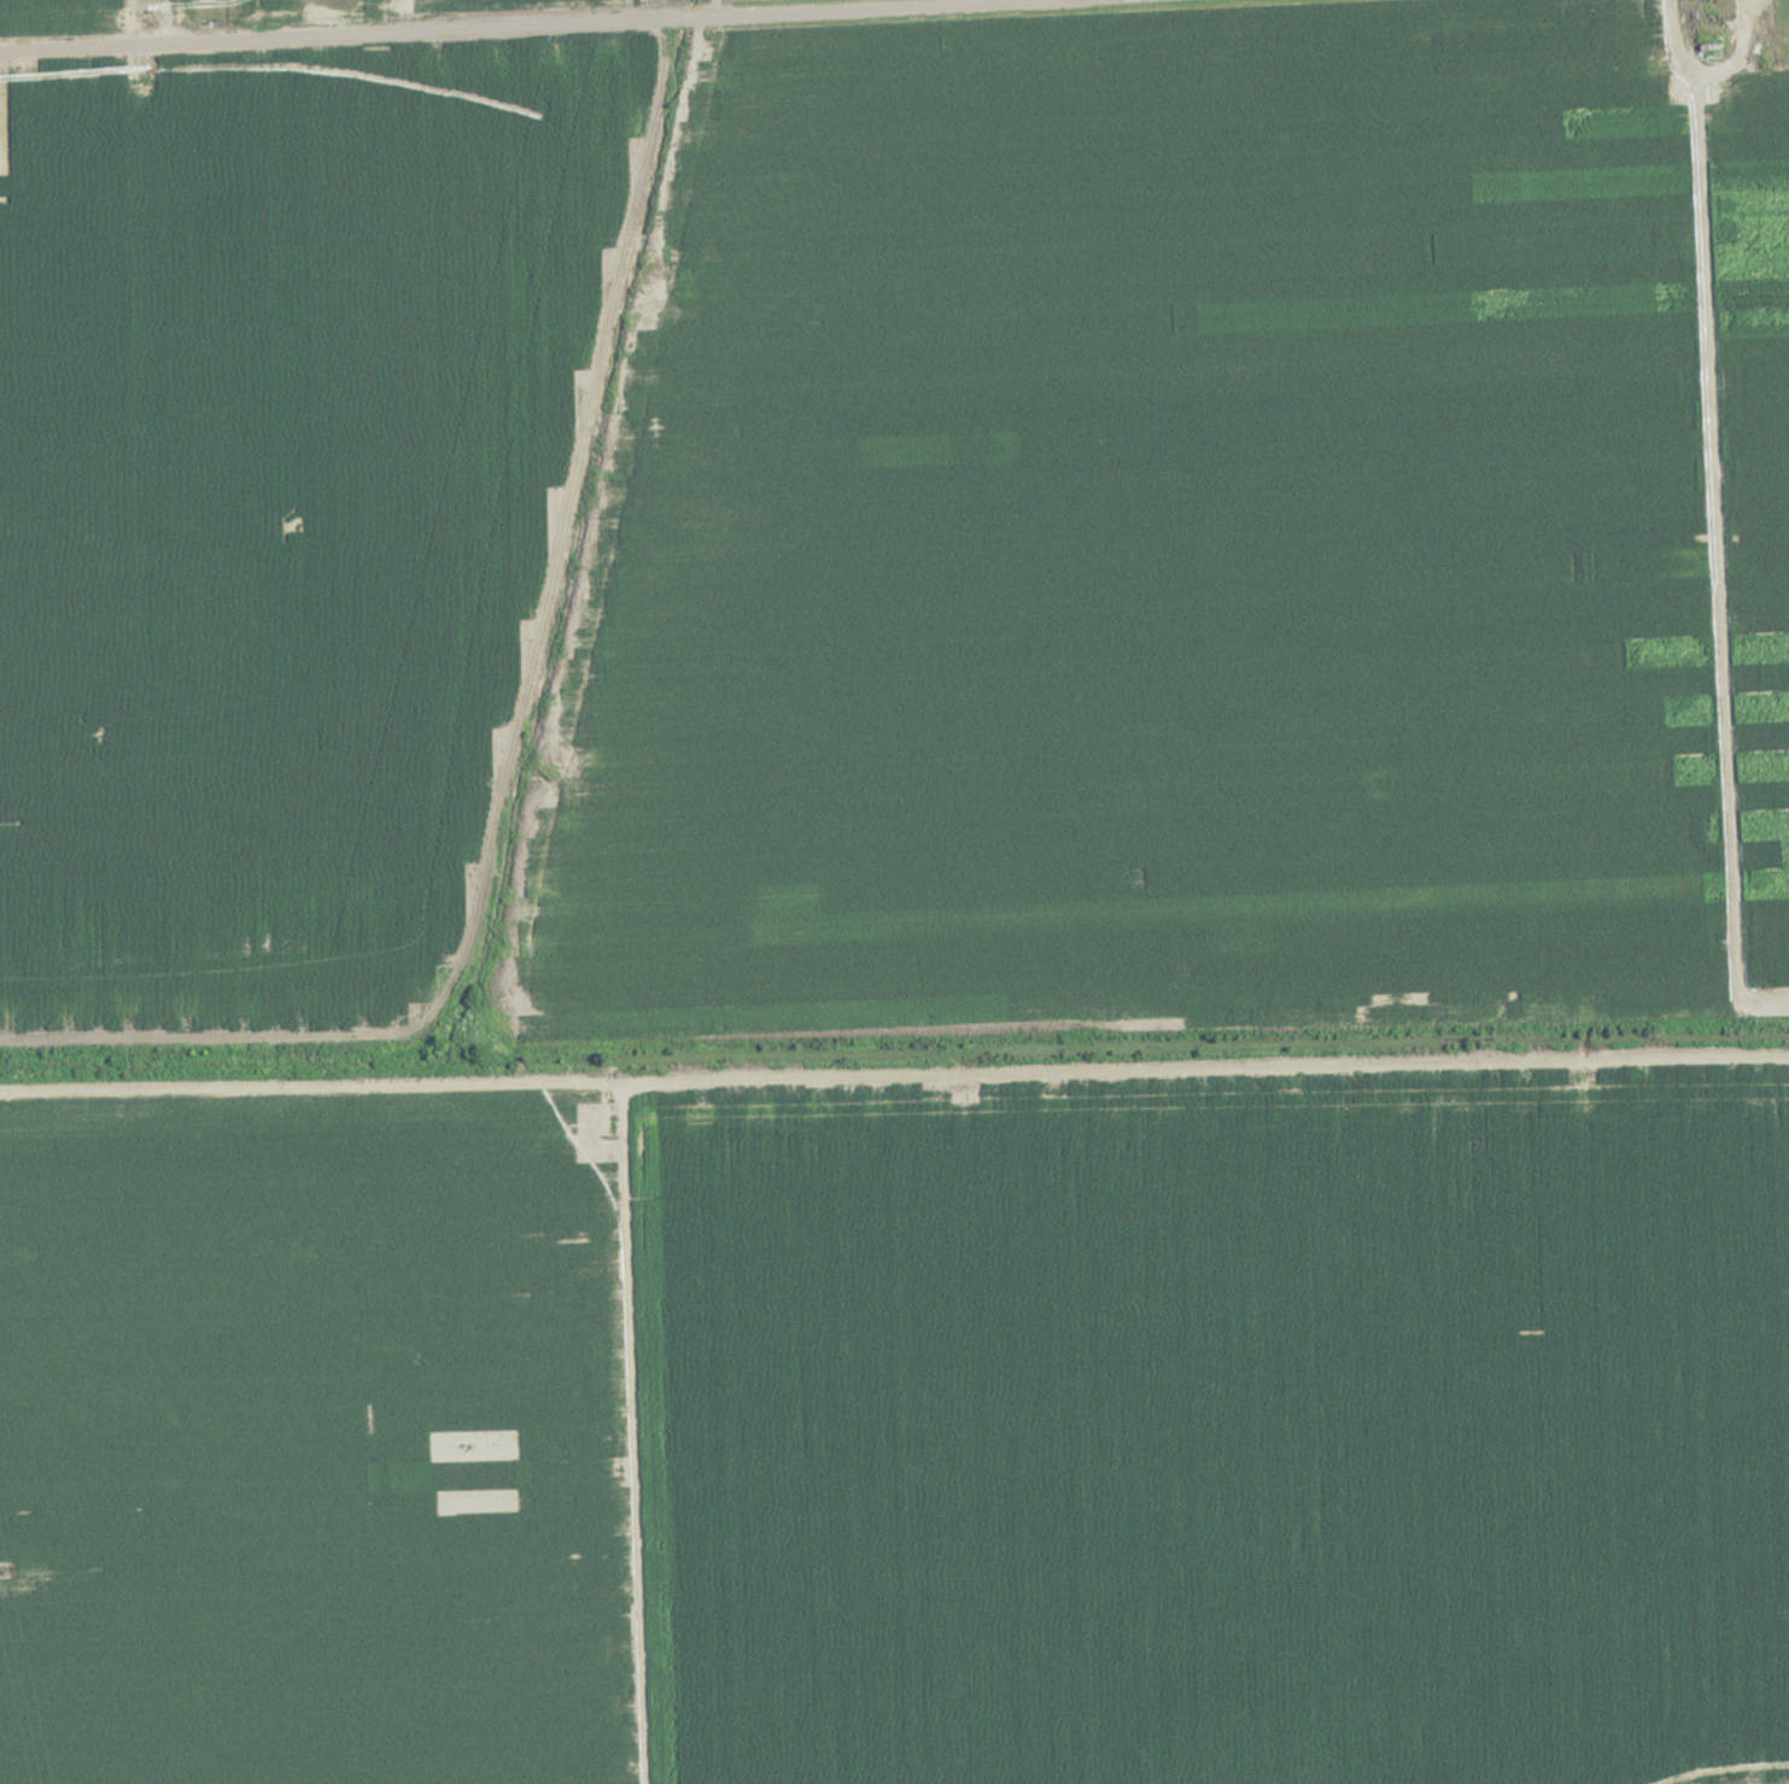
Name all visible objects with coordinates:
road: (545, 28)

